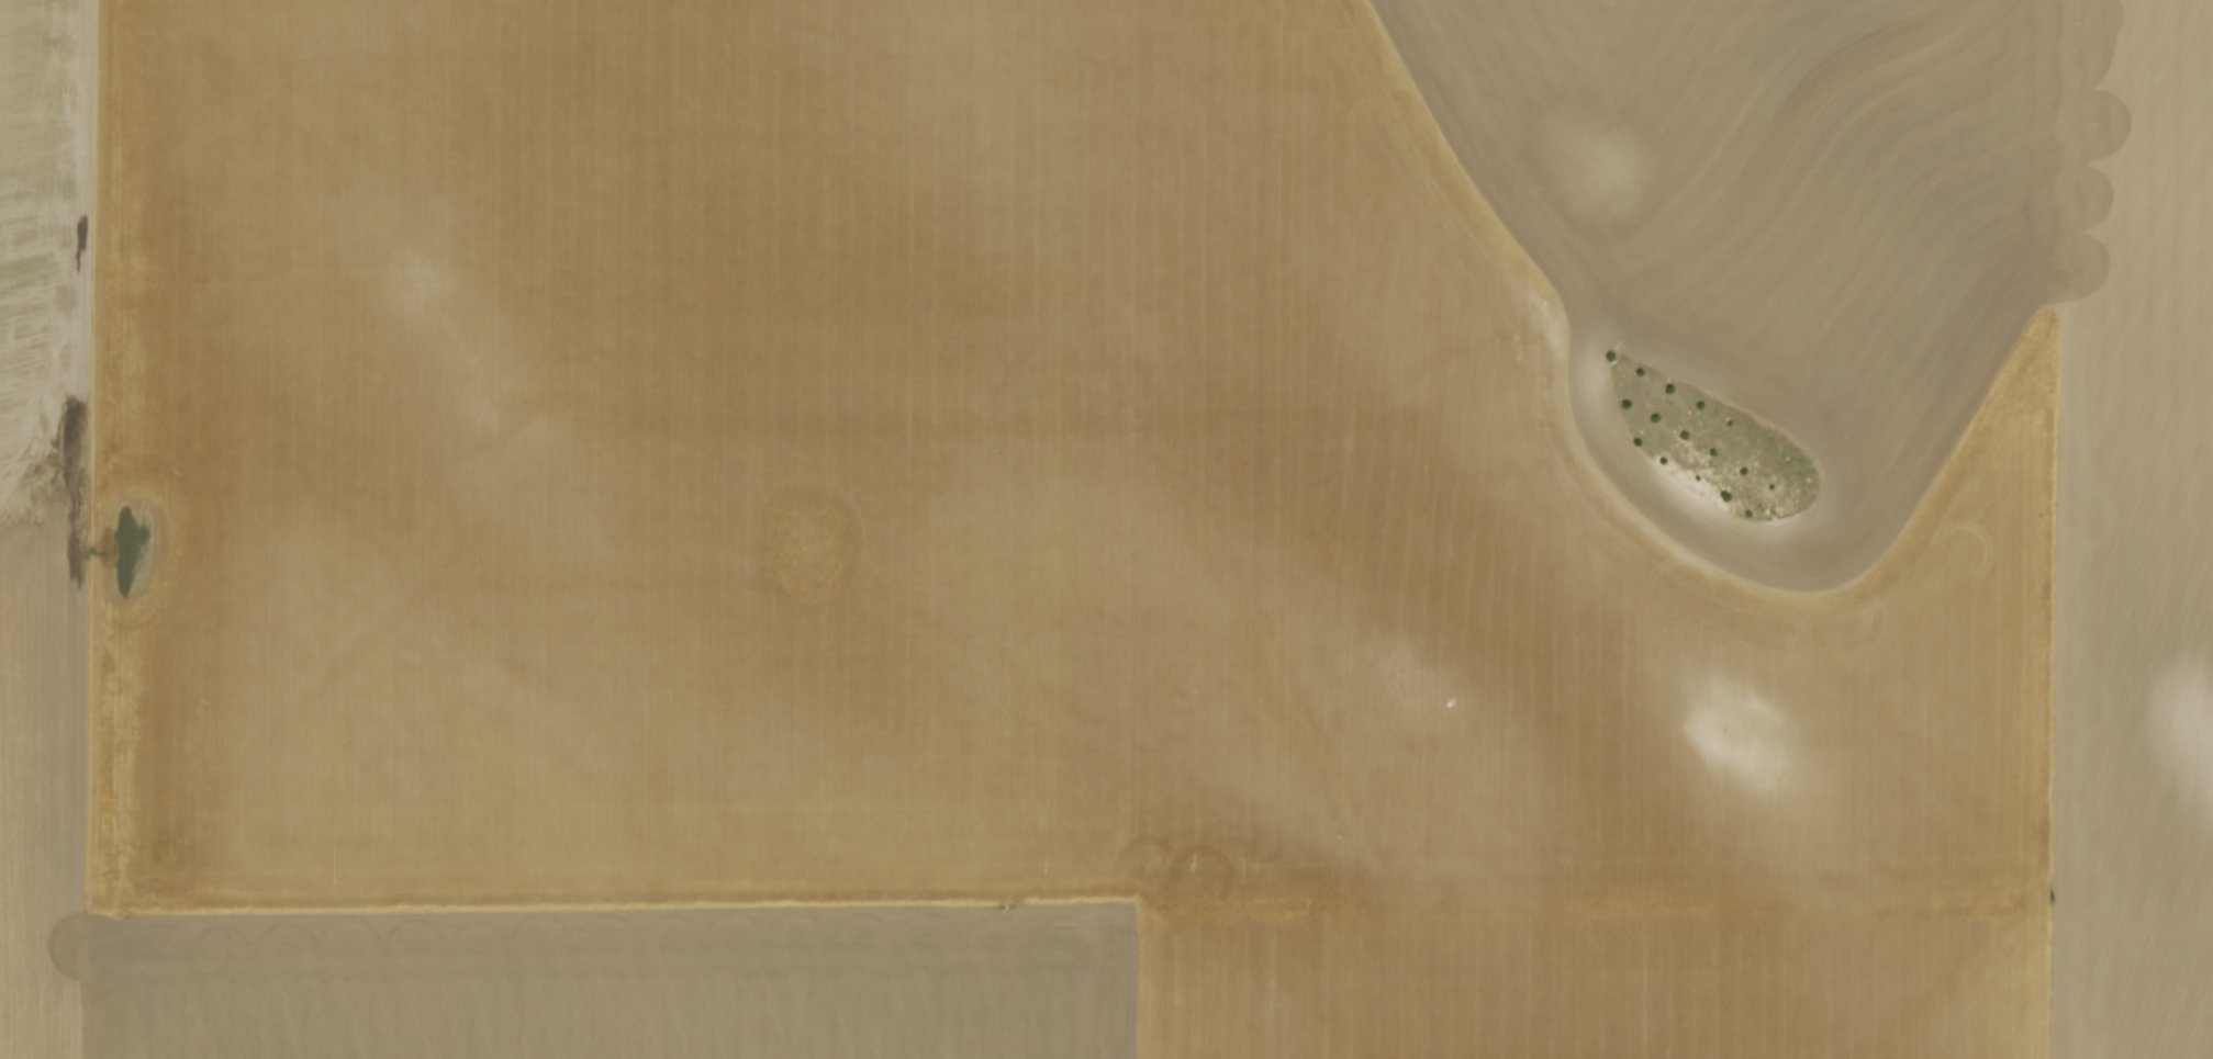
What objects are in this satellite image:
crop: (1106, 529)

